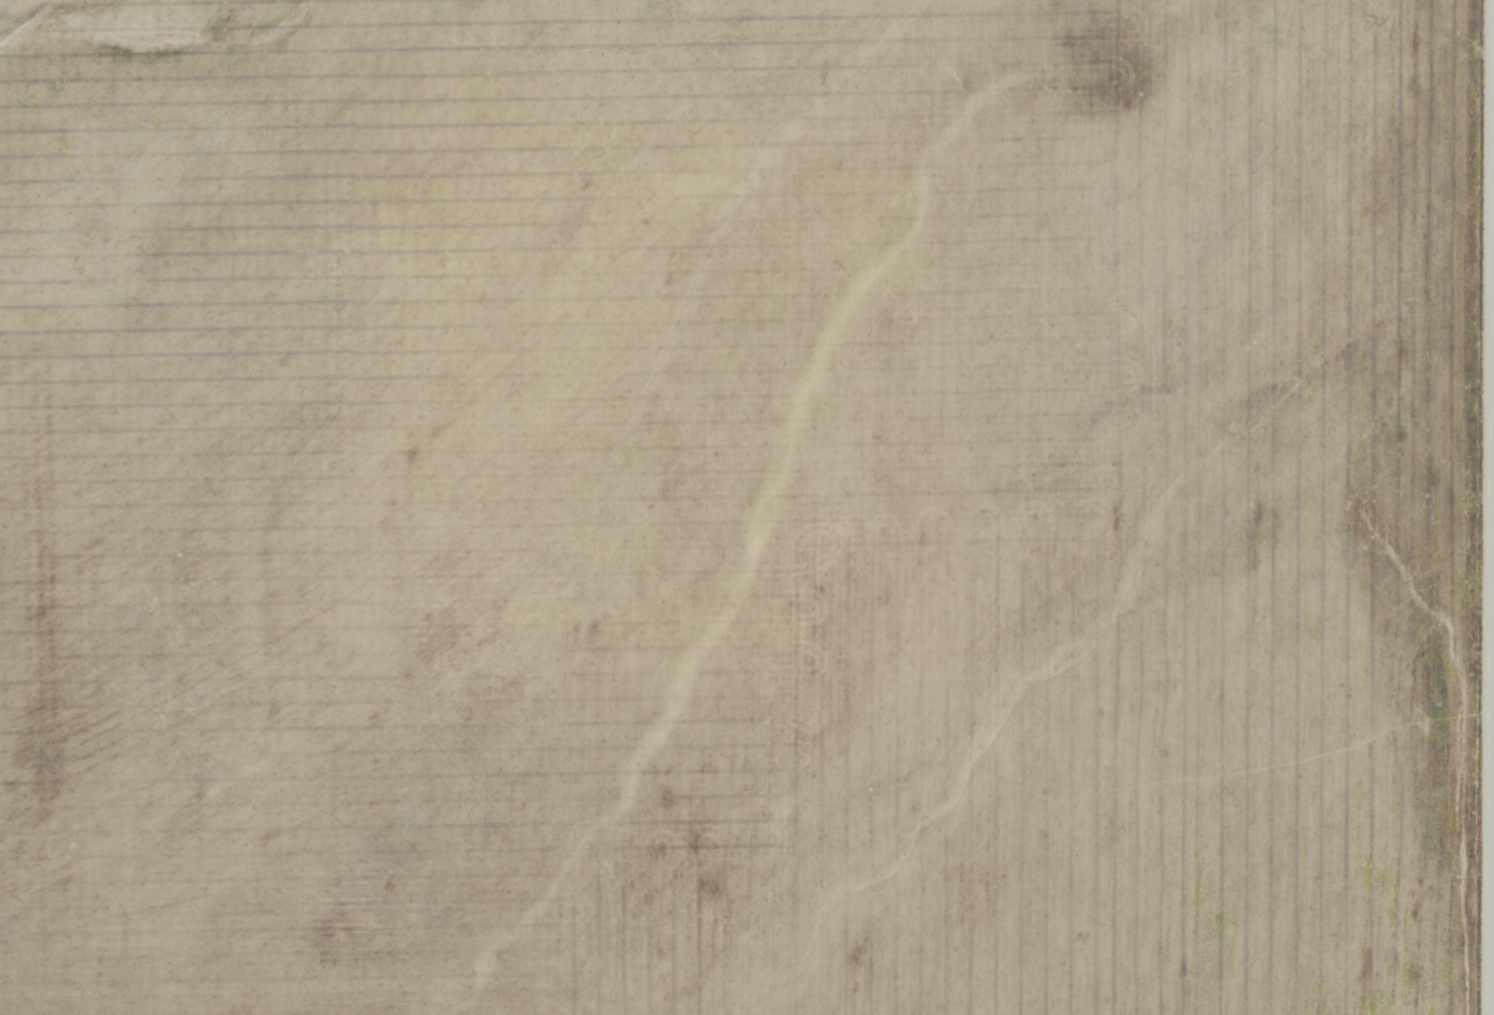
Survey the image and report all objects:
road: (1487, 507)

